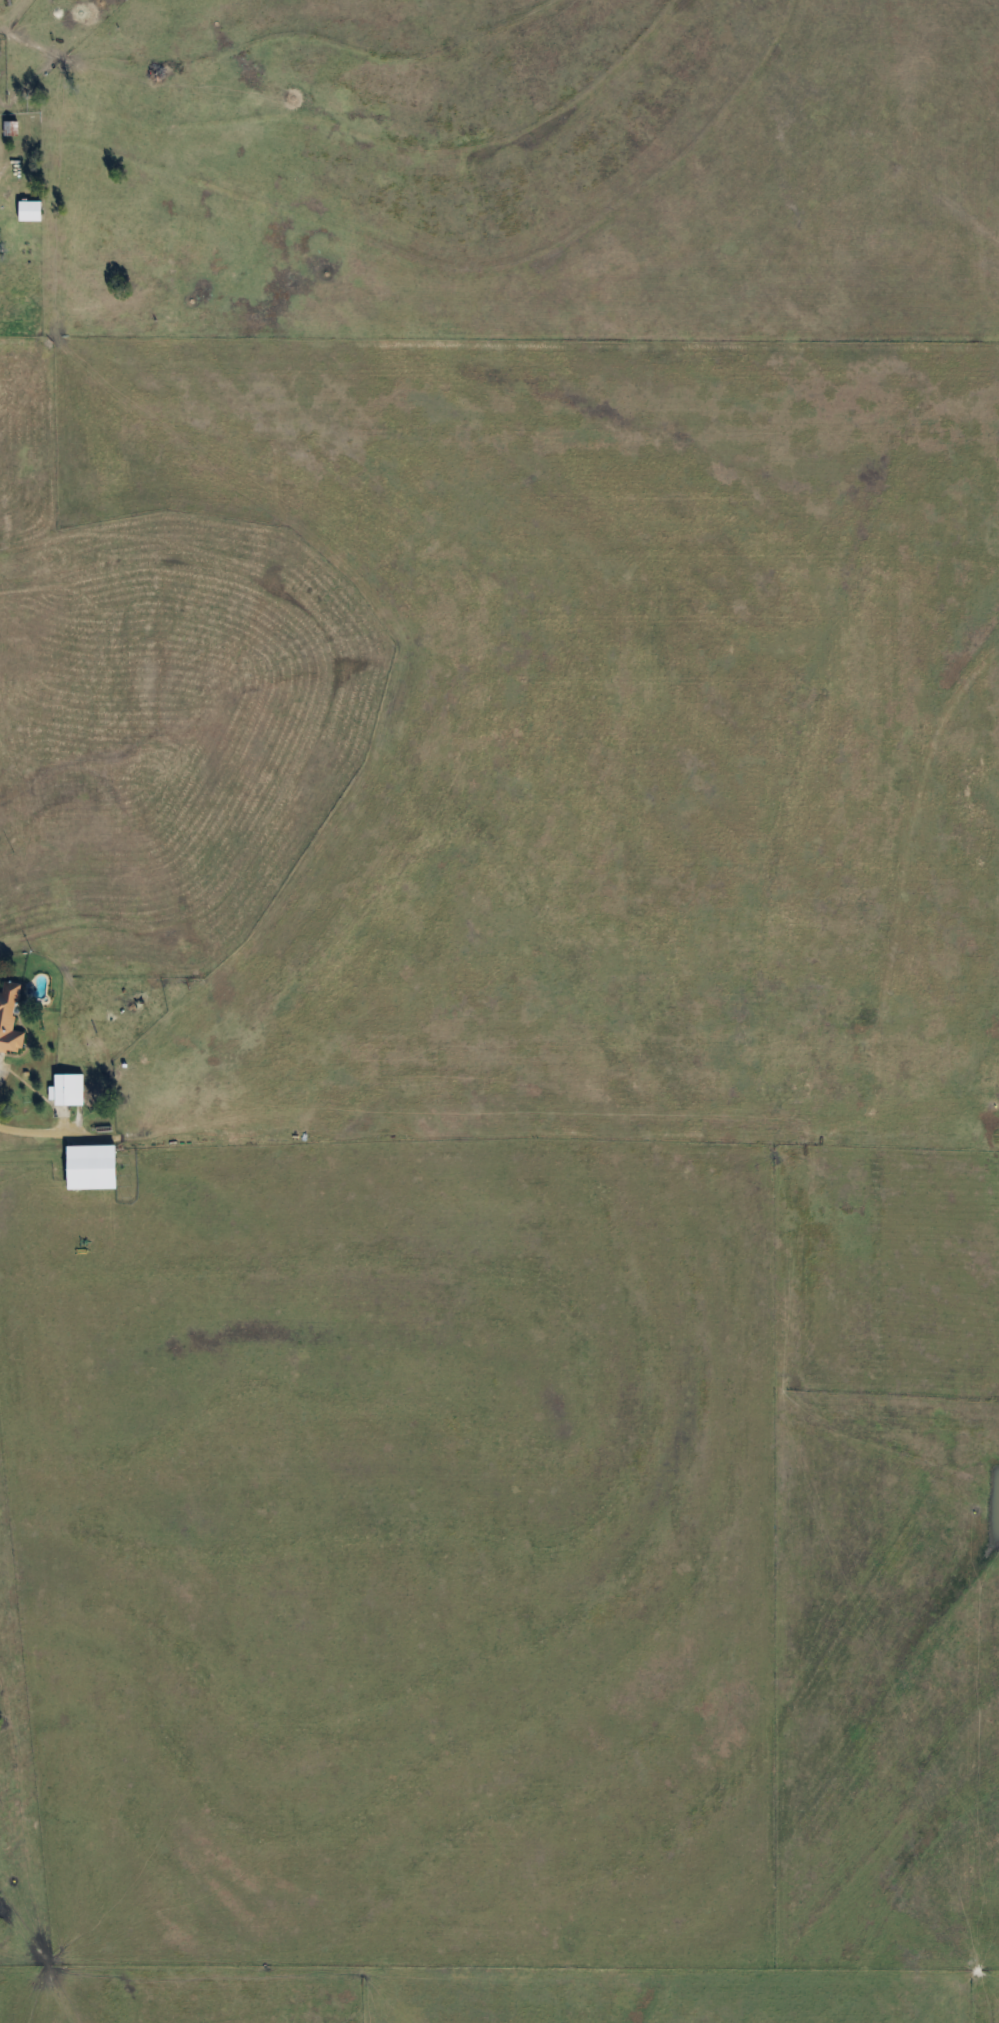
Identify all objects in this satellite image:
building: (28, 211)
building: (9, 1019)
building: (67, 1089)
road: (36, 1133)

